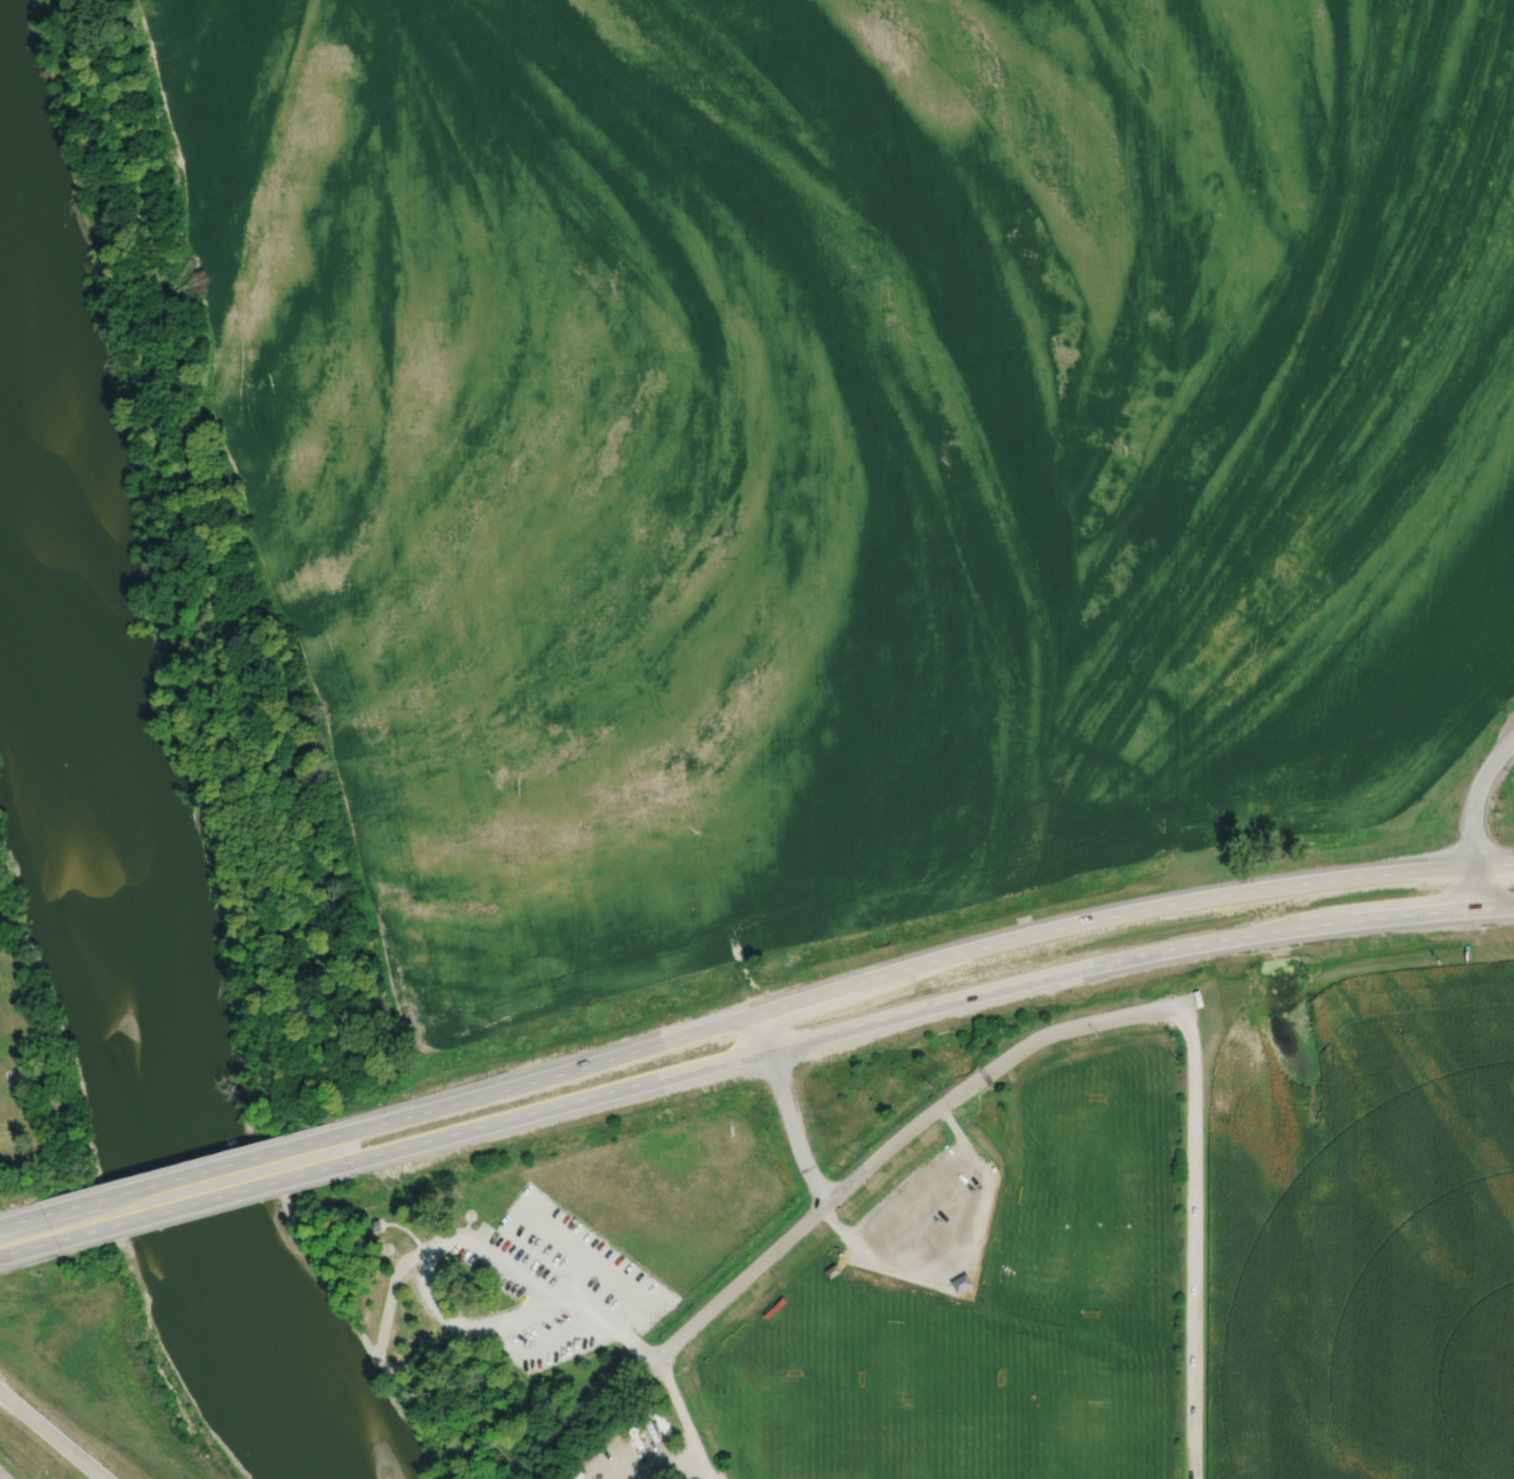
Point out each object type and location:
road: (1476, 795)
road: (1494, 864)
road: (1476, 887)
road: (1495, 908)
river: (122, 950)
road: (896, 969)
road: (907, 1011)
building: (13, 1077)
road: (787, 1109)
road: (900, 1139)
road: (188, 1176)
road: (914, 1198)
road: (201, 1201)
parking lot: (929, 1217)
road: (21, 1219)
building: (375, 1225)
road: (480, 1226)
road: (407, 1231)
road: (445, 1231)
road: (1192, 1243)
road: (570, 1246)
road: (27, 1248)
road: (965, 1258)
building: (832, 1271)
park: (536, 1275)
parking lot: (563, 1281)
road: (621, 1283)
building: (961, 1283)
road: (391, 1296)
road: (969, 1297)
building: (772, 1308)
road: (453, 1324)
road: (557, 1334)
park: (795, 1414)
road: (681, 1415)
road: (52, 1435)
road: (80, 1436)
park: (938, 1443)
park: (1093, 1444)
parking lot: (636, 1449)

